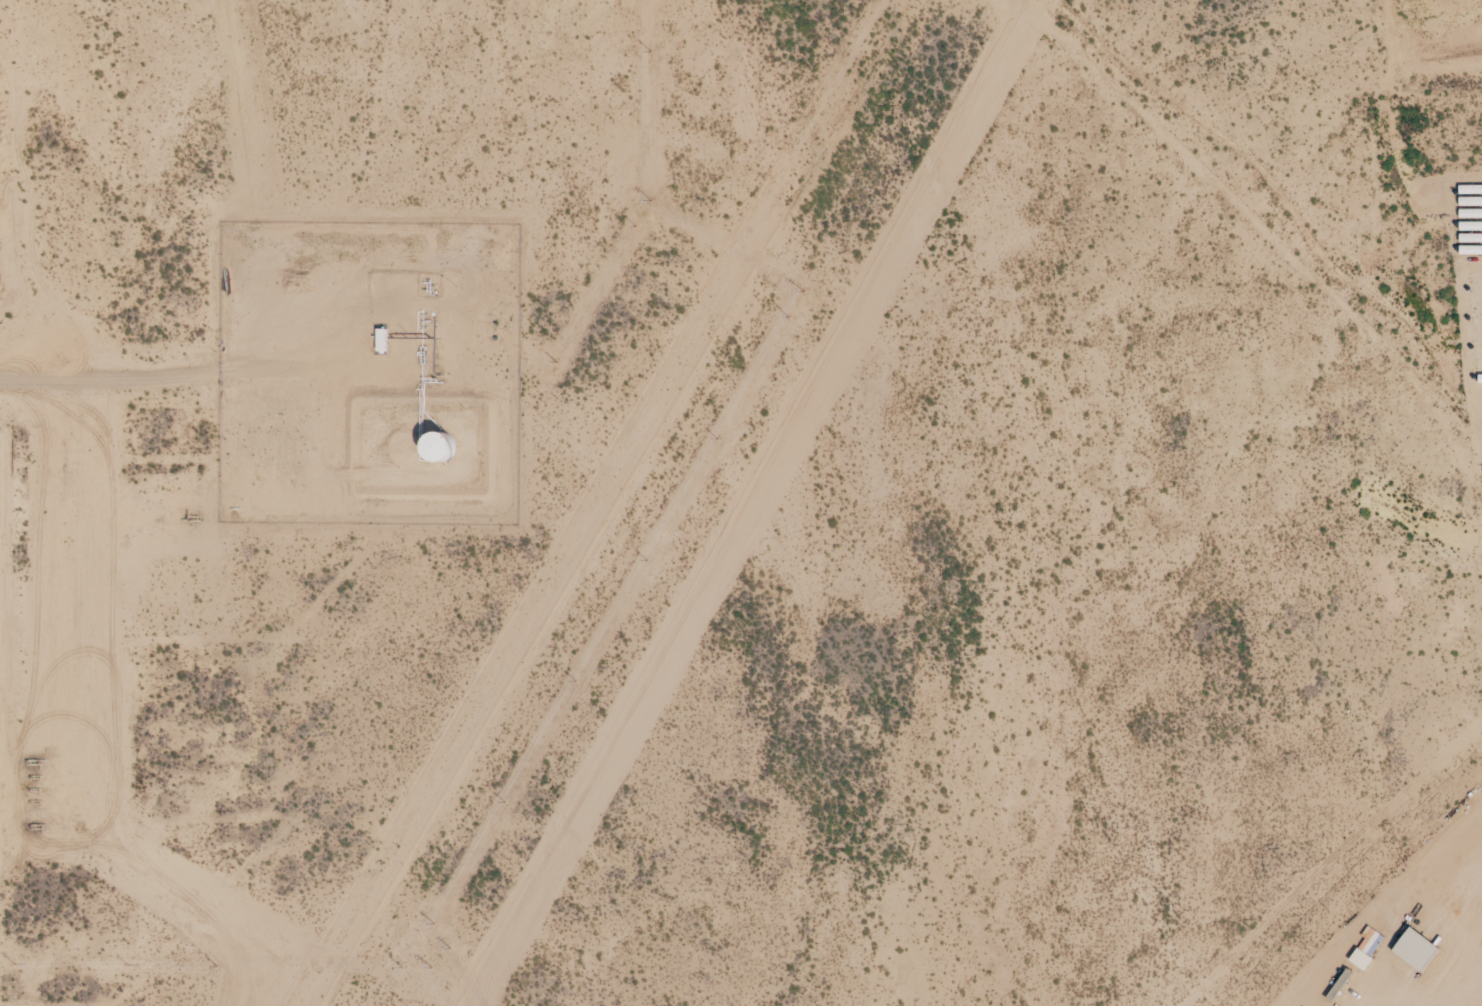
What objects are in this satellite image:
building: (1471, 201)
building: (1471, 238)
building: (1476, 277)
building: (1476, 320)
building: (1477, 334)
building: (1479, 364)
building: (1480, 378)
building: (1416, 950)

